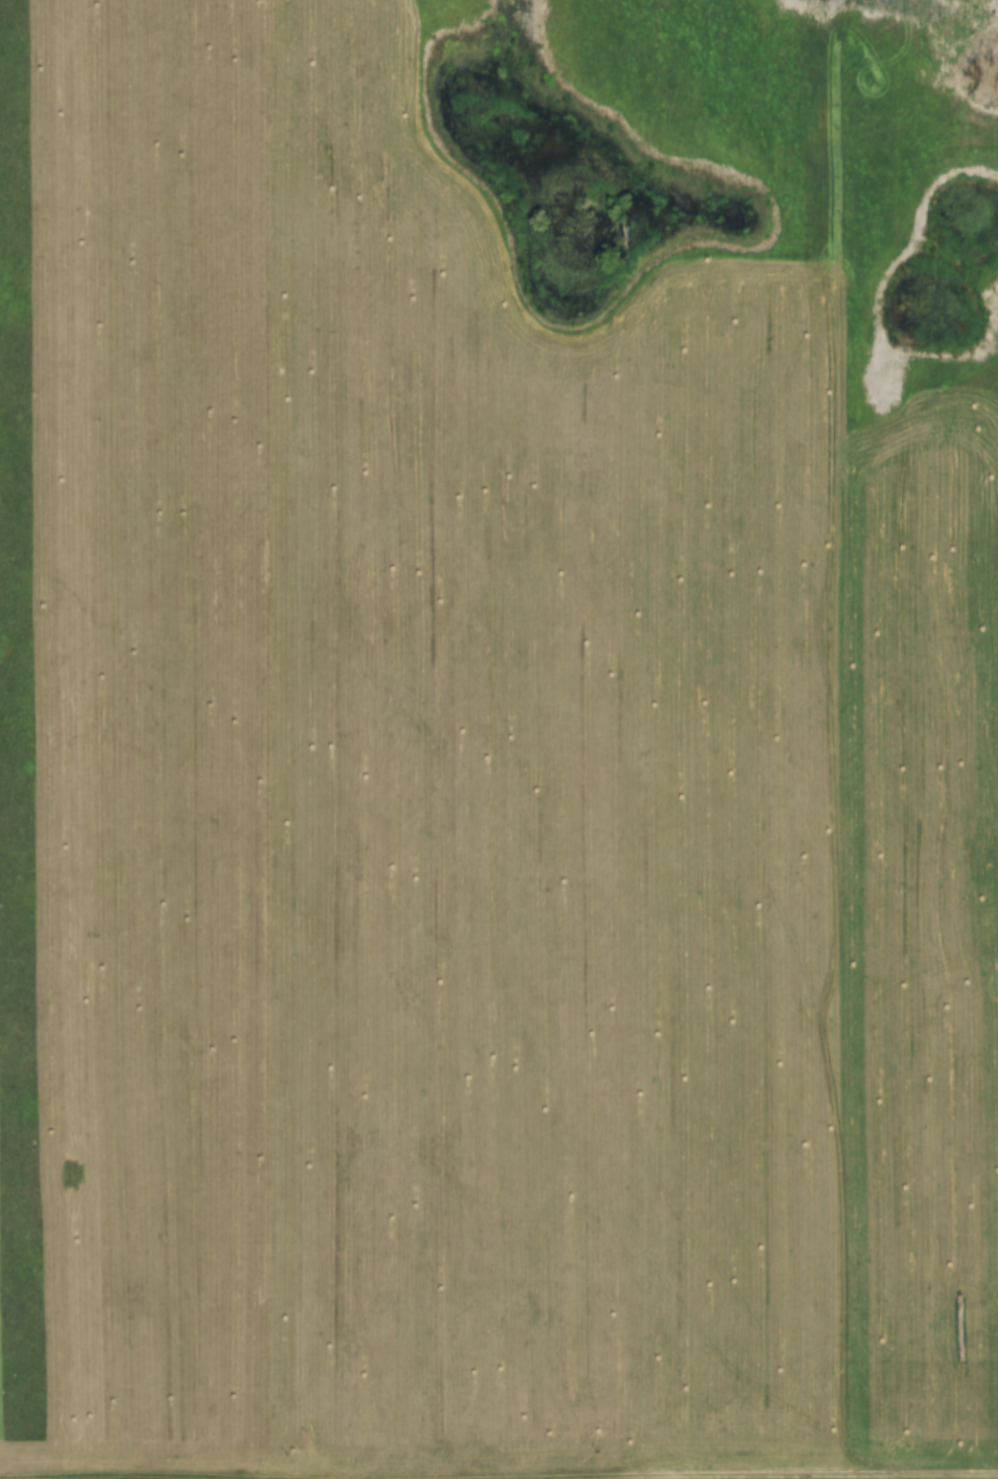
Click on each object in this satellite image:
road: (582, 1475)

